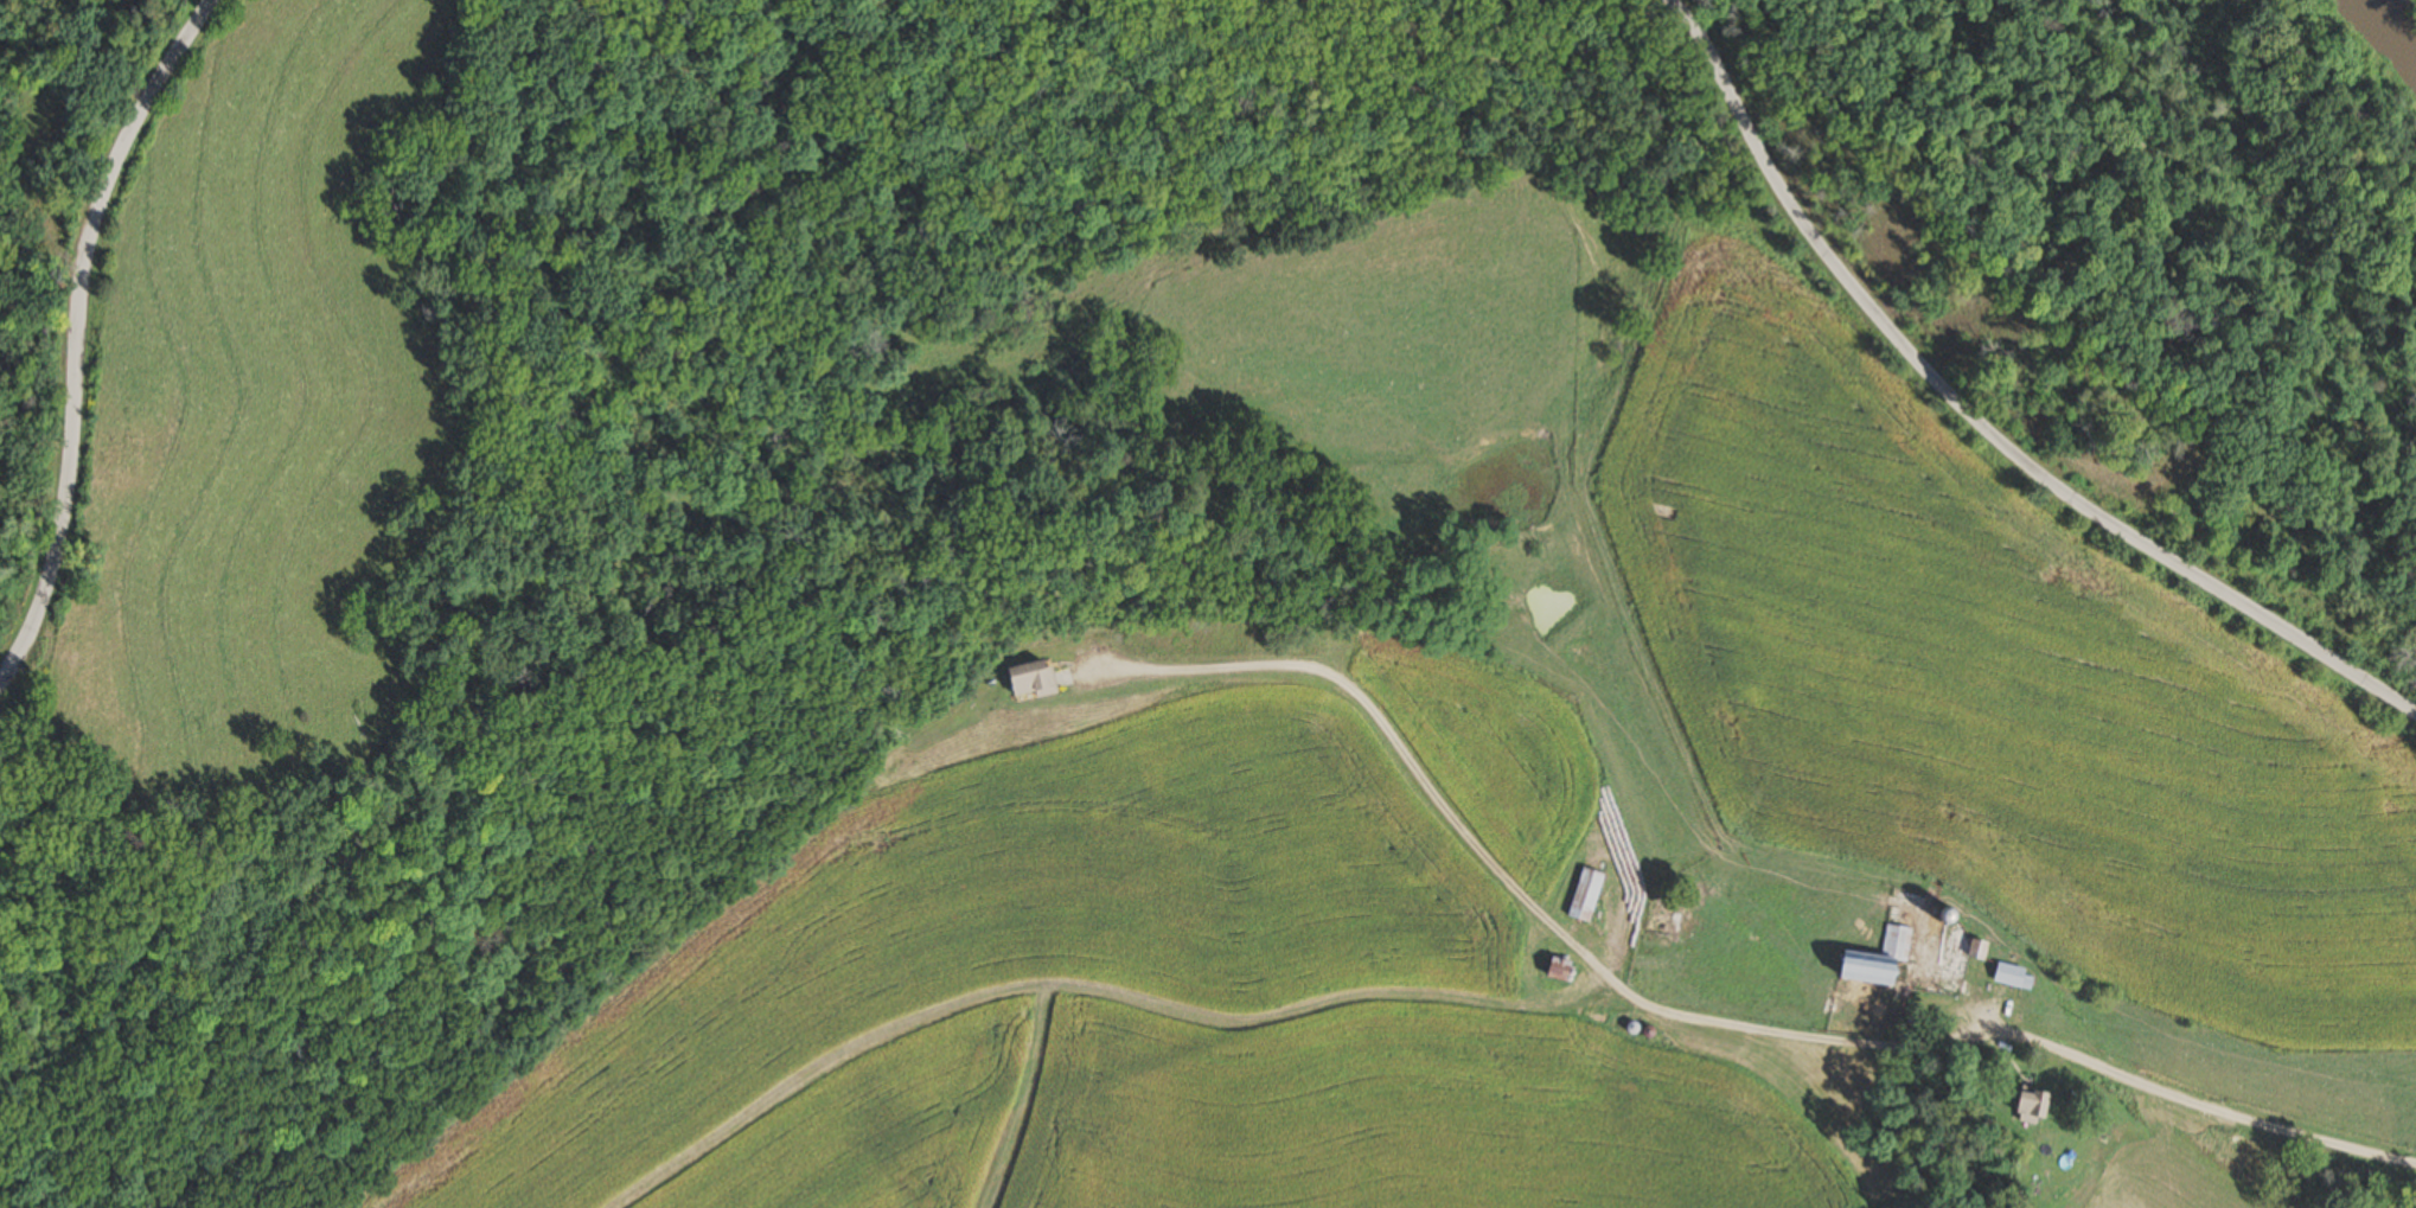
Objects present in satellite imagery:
river: (2392, 23)
road: (78, 332)
road: (1979, 423)
building: (1028, 682)
building: (1584, 895)
building: (1873, 959)
building: (2012, 977)
road: (2223, 1112)

